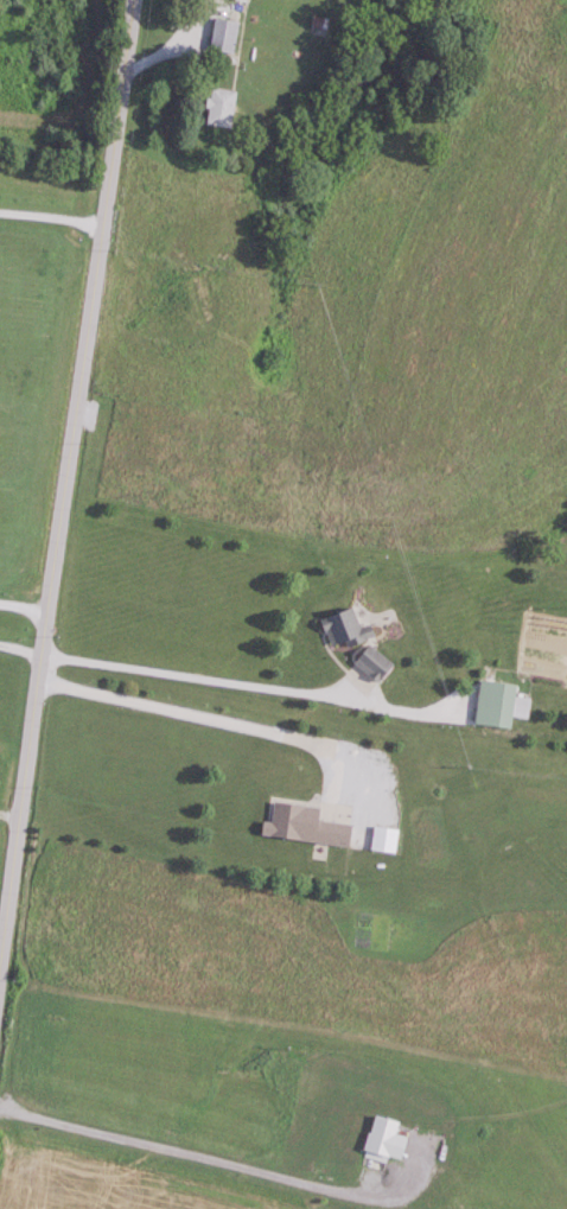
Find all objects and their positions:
building: (227, 36)
building: (223, 108)
road: (51, 223)
road: (65, 488)
road: (24, 605)
building: (349, 630)
building: (376, 663)
road: (195, 675)
building: (502, 705)
road: (196, 714)
road: (11, 814)
building: (307, 826)
building: (387, 839)
road: (184, 1152)

